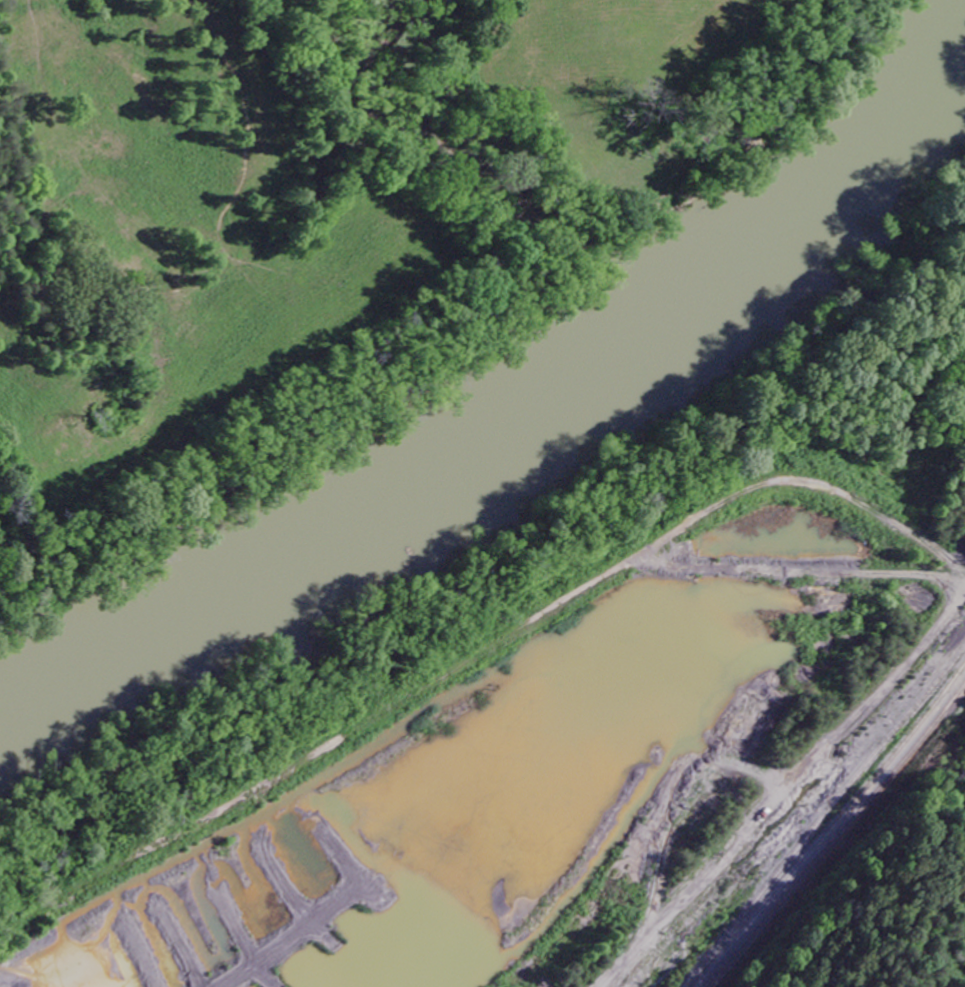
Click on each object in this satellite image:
river: (524, 413)
railway: (826, 836)
railway: (769, 915)

